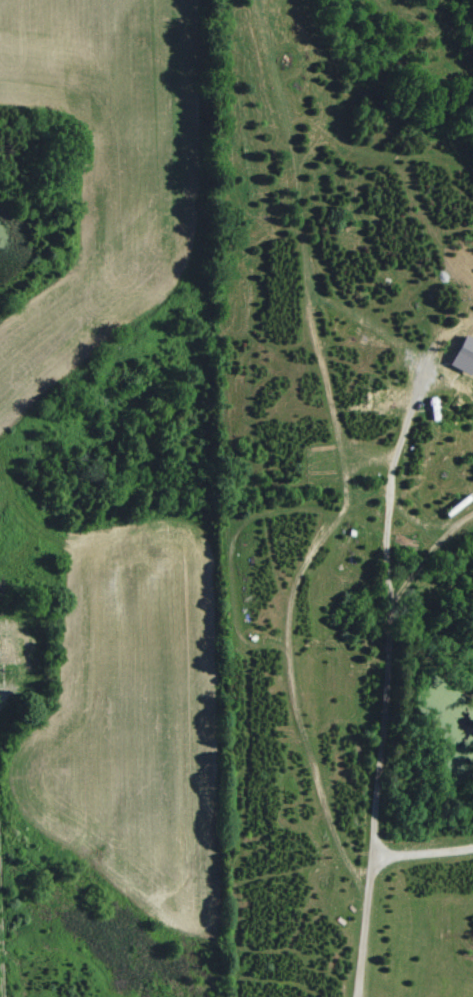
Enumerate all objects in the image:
road: (383, 746)
road: (423, 854)
road: (1, 966)

